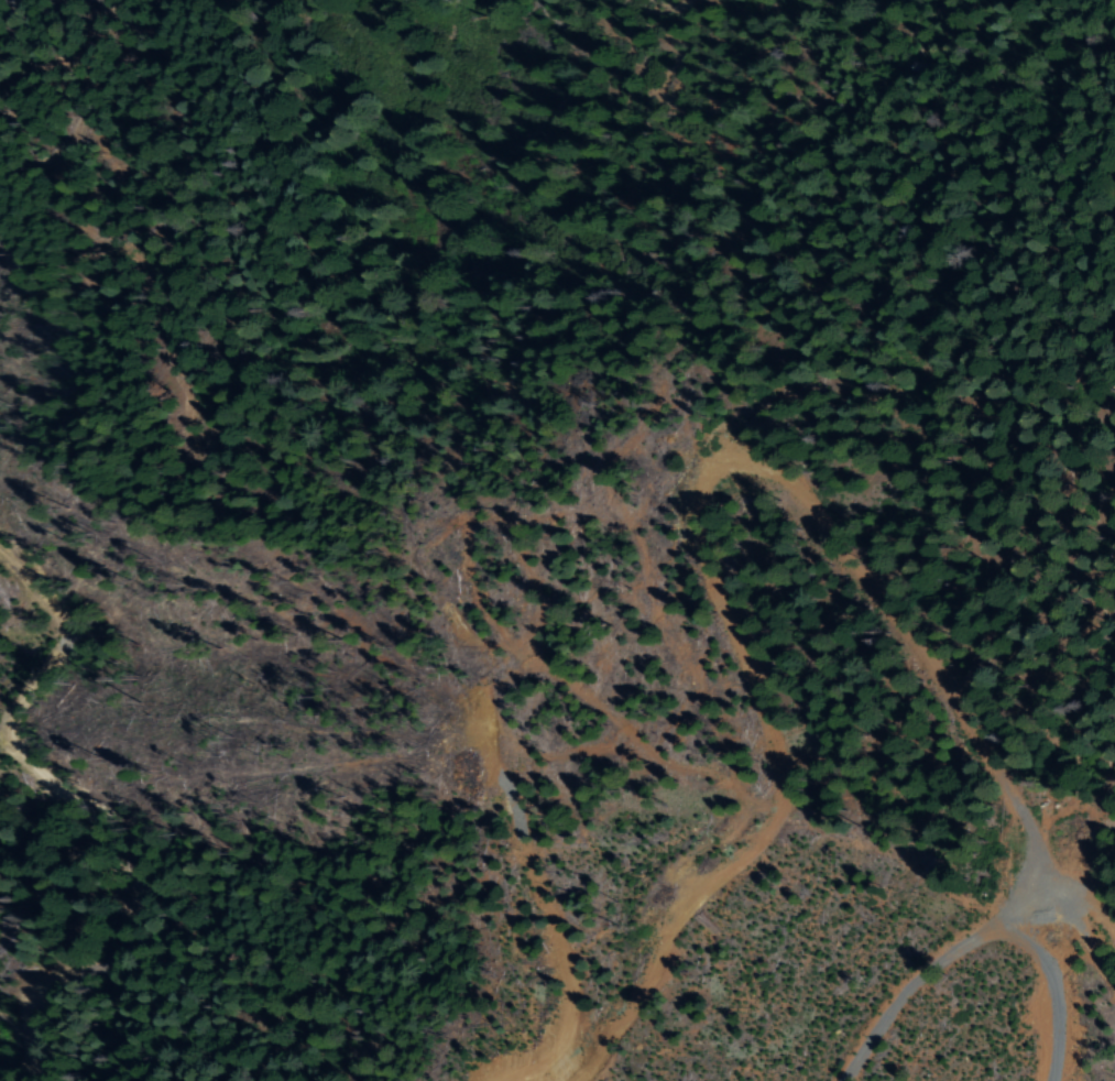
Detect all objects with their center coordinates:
road: (1091, 919)
road: (920, 941)

